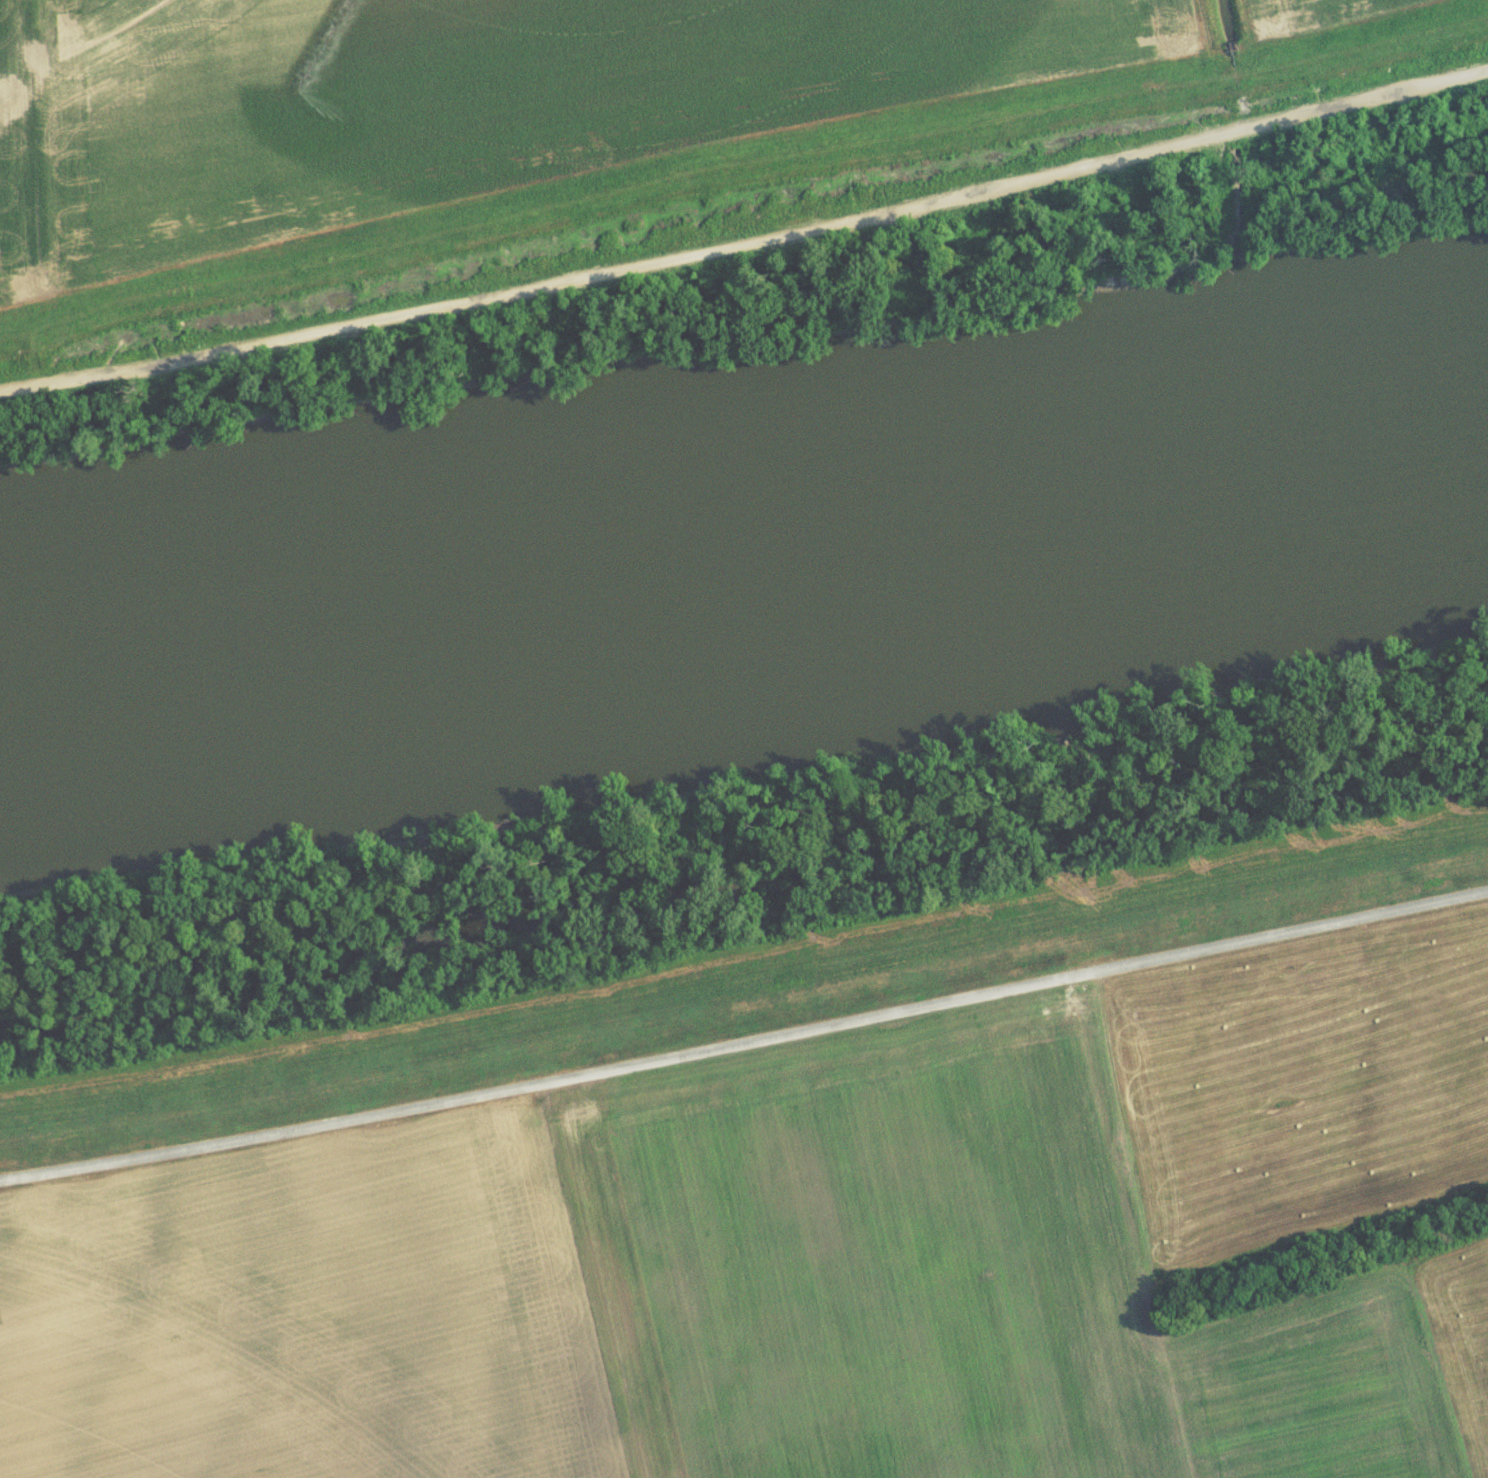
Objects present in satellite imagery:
road: (1204, 30)
road: (747, 249)
river: (749, 571)
road: (745, 1046)
road: (1347, 1241)

